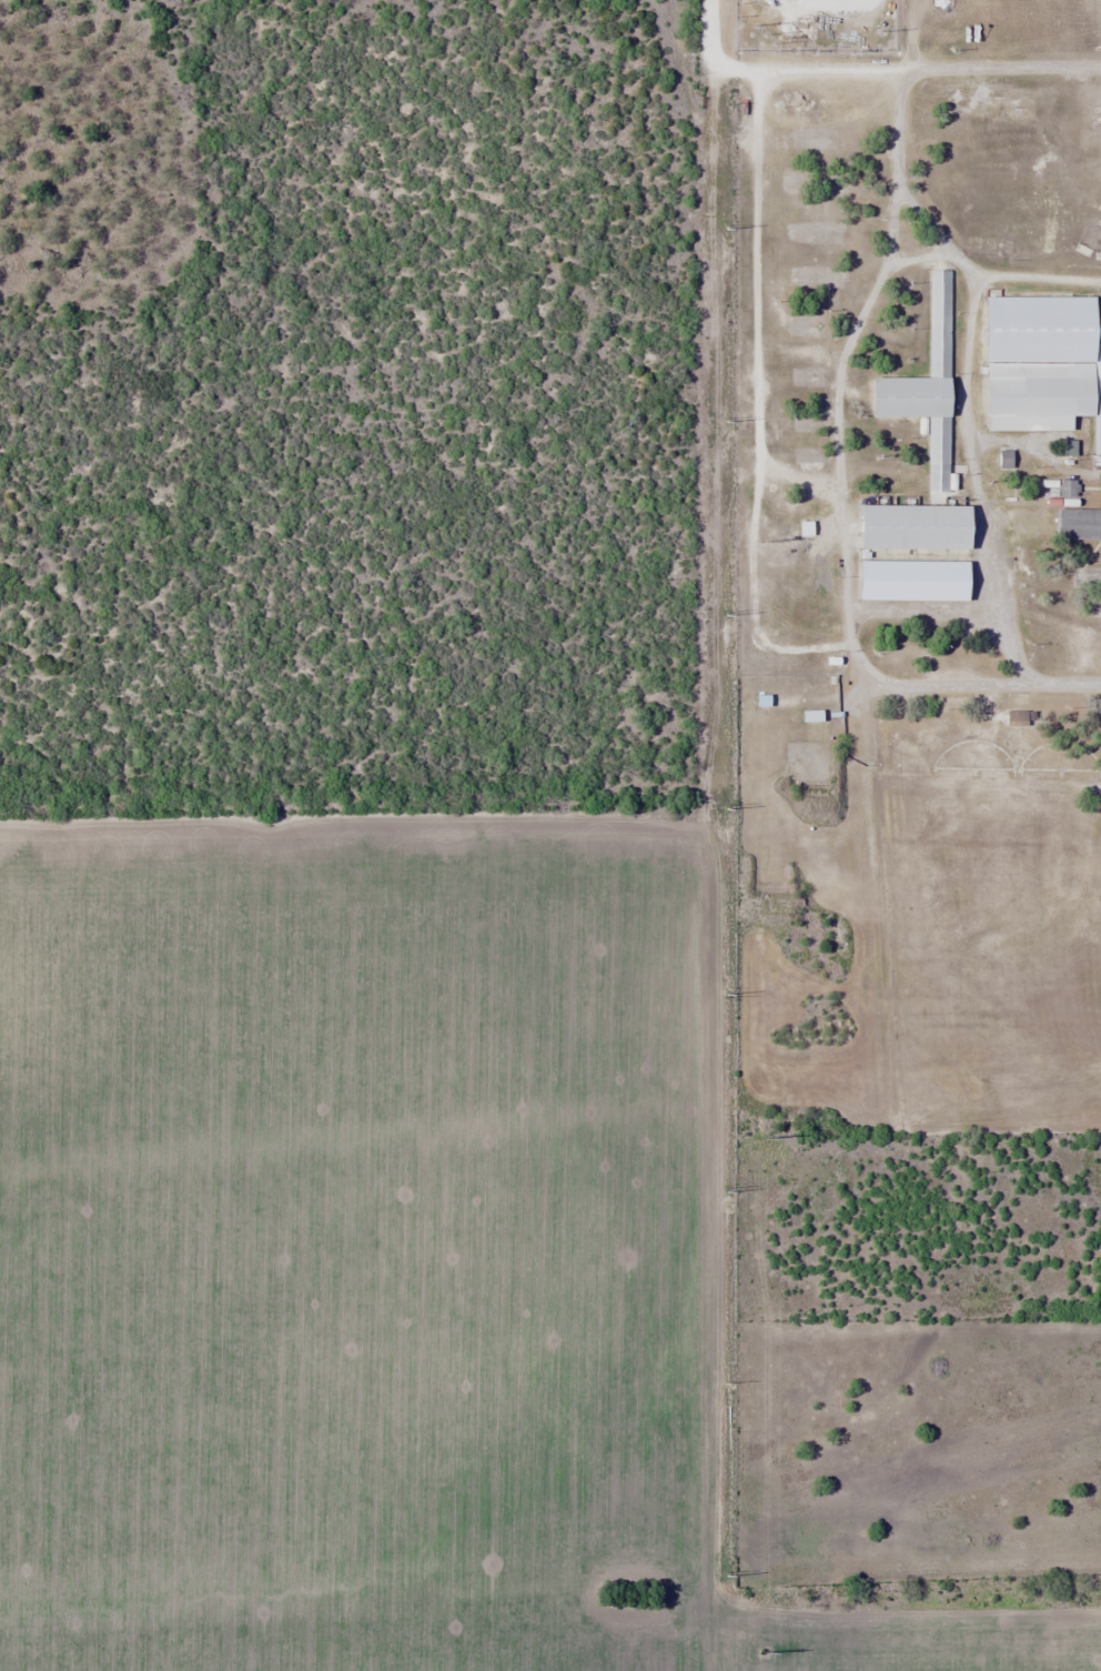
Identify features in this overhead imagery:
power substation: (816, 24)
power tower: (766, 34)
power tower: (883, 34)
road: (777, 70)
building: (1042, 370)
road: (841, 385)
building: (925, 385)
building: (1064, 487)
building: (1079, 523)
building: (911, 526)
power tower: (768, 542)
building: (910, 580)
building: (1014, 717)
power tower: (767, 1138)
power tower: (766, 1652)

